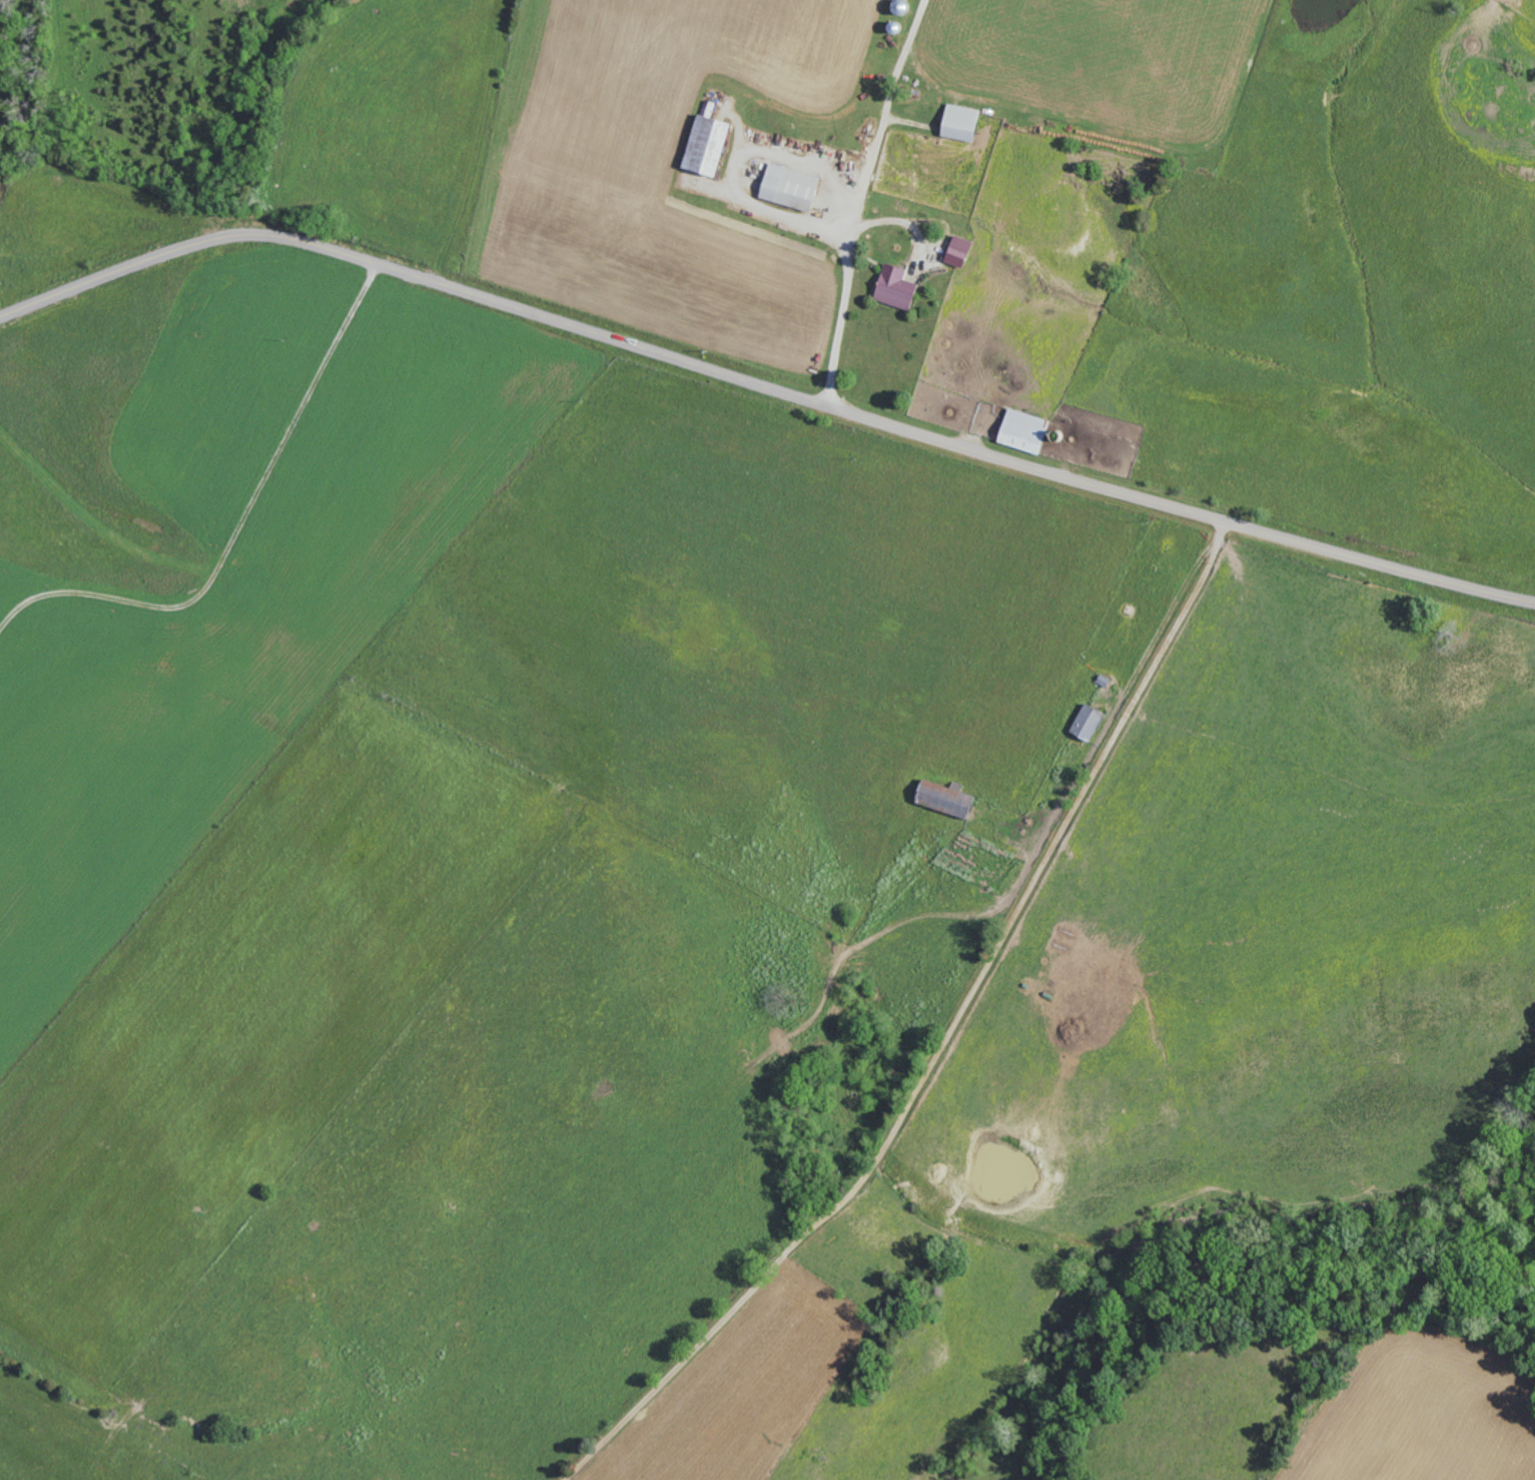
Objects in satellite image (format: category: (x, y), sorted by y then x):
building: (965, 122)
building: (712, 144)
building: (794, 187)
building: (961, 251)
building: (900, 286)
road: (763, 386)
building: (1029, 431)
building: (1093, 722)
building: (952, 800)
road: (954, 1042)

